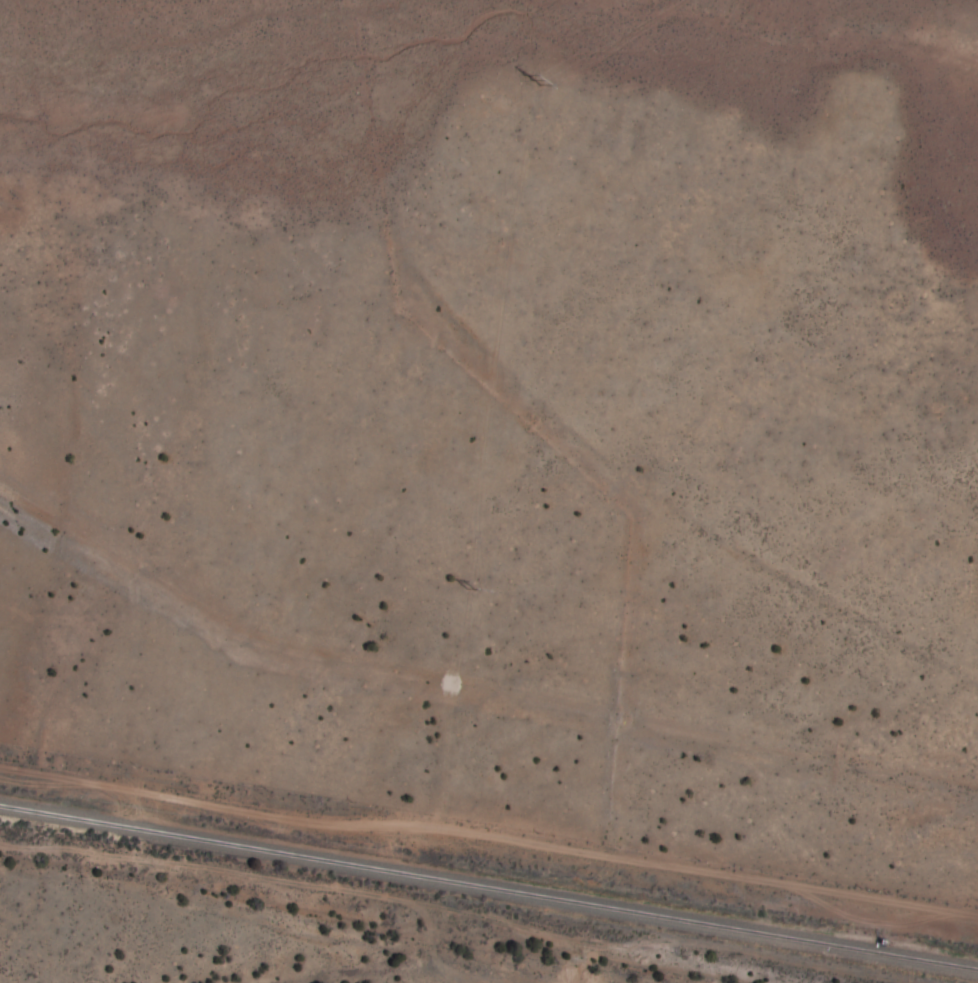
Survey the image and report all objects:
railway: (489, 888)

